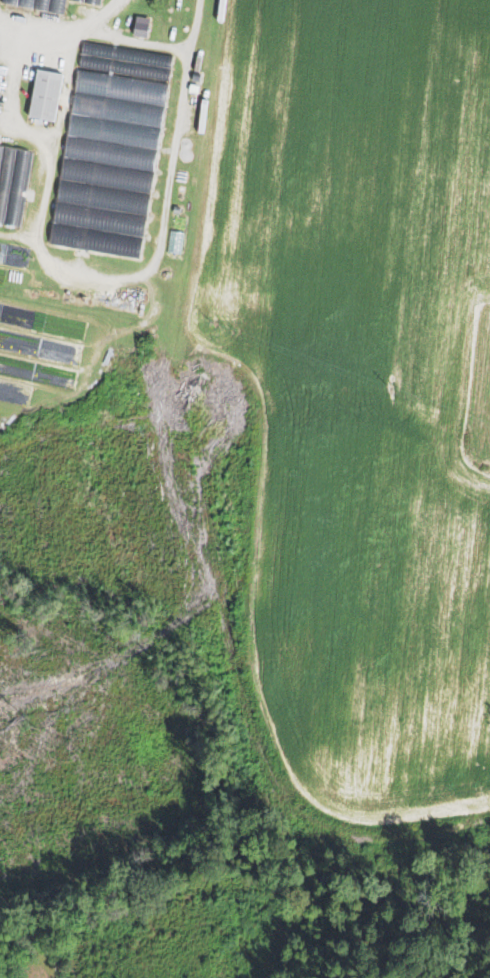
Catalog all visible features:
building: (80, 0)
building: (9, 1)
building: (90, 1)
building: (25, 3)
building: (40, 4)
building: (56, 6)
building: (142, 23)
road: (121, 38)
building: (127, 54)
building: (124, 67)
road: (11, 81)
building: (121, 87)
building: (44, 94)
building: (118, 110)
building: (114, 133)
building: (111, 155)
building: (106, 175)
building: (12, 184)
building: (103, 197)
building: (99, 218)
building: (96, 240)
road: (108, 280)
crop: (359, 385)

